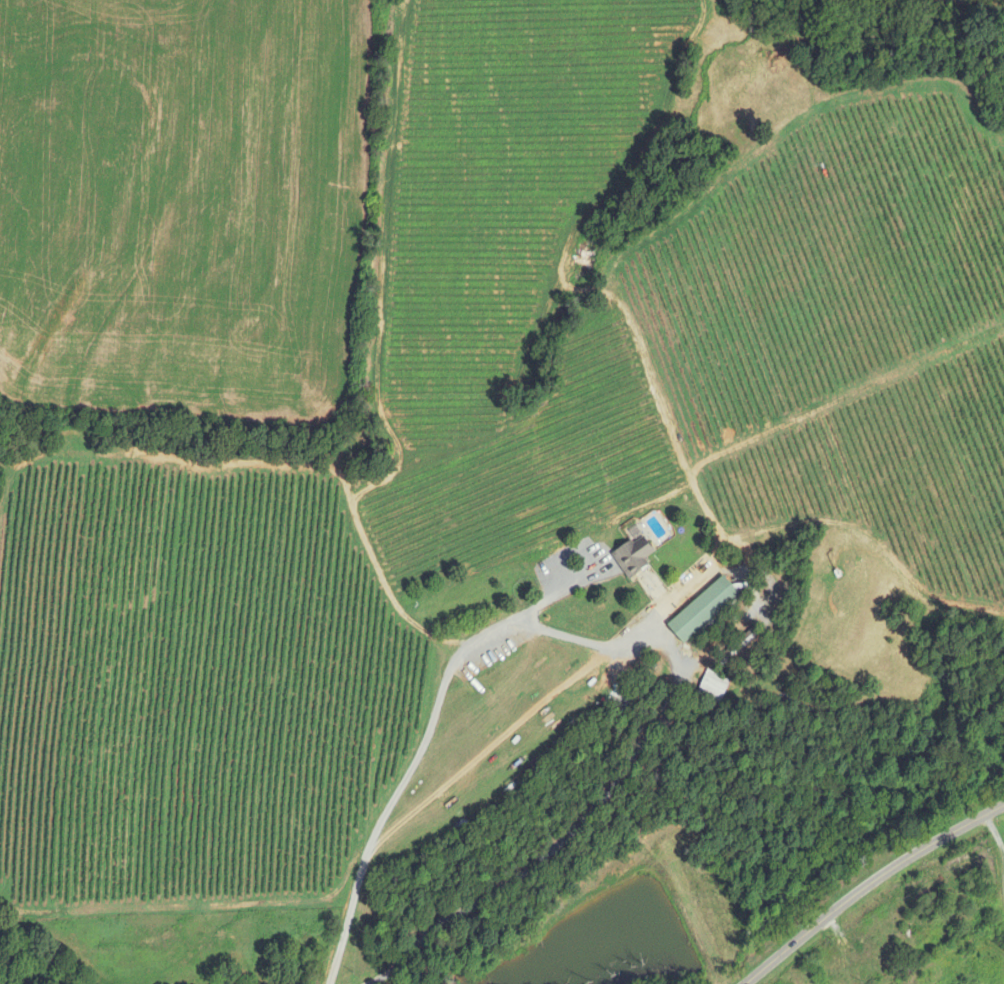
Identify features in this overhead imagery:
building: (632, 555)
road: (563, 590)
building: (702, 609)
road: (623, 643)
building: (712, 687)
road: (998, 842)
road: (867, 883)

